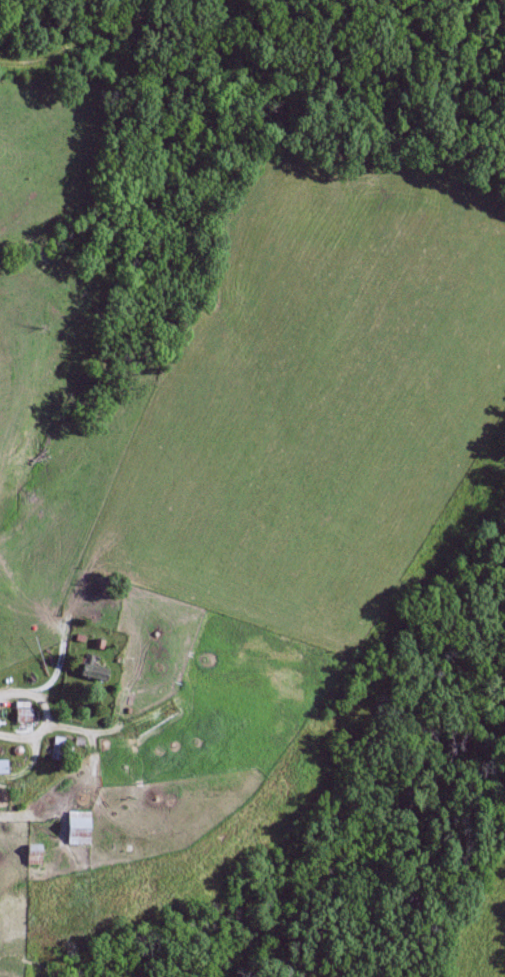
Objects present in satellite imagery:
building: (92, 669)
building: (57, 749)
building: (3, 768)
building: (78, 829)

